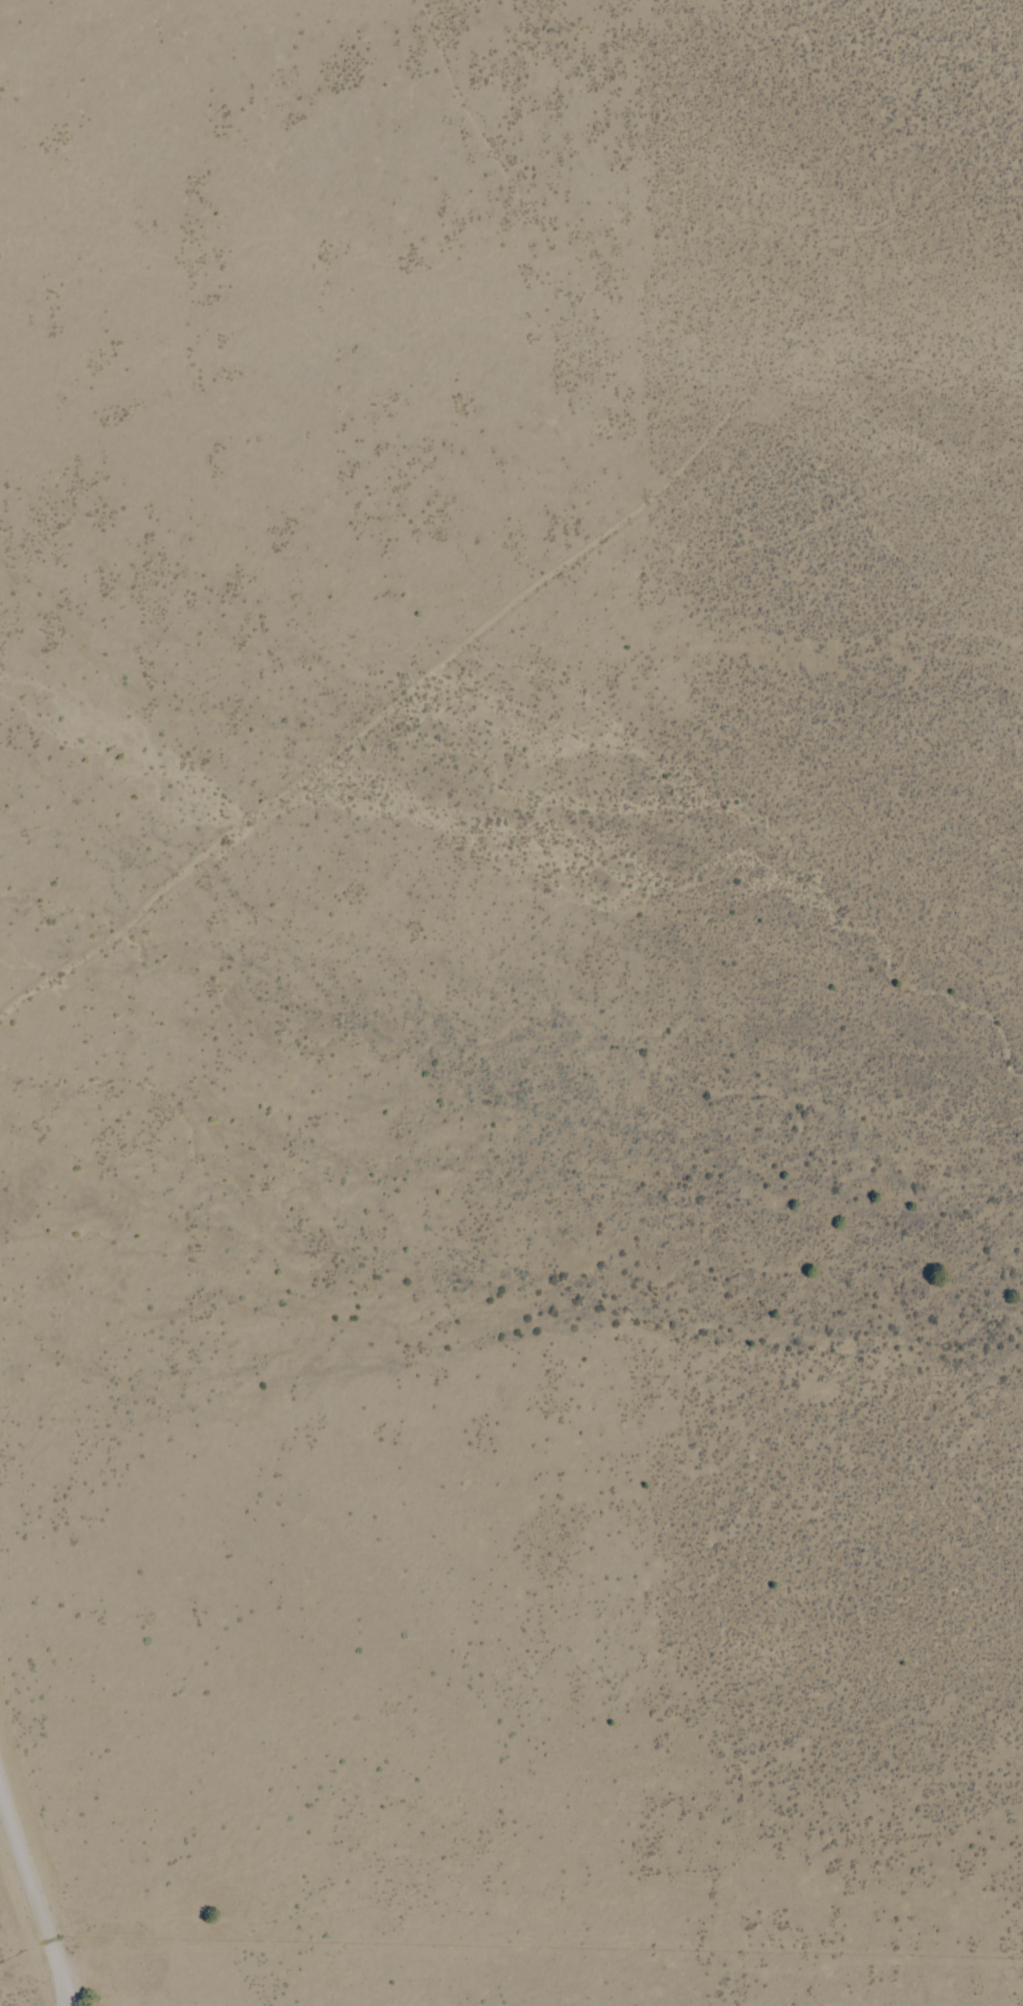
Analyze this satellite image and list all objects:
road: (29, 1881)
road: (58, 1988)
road: (66, 1988)

